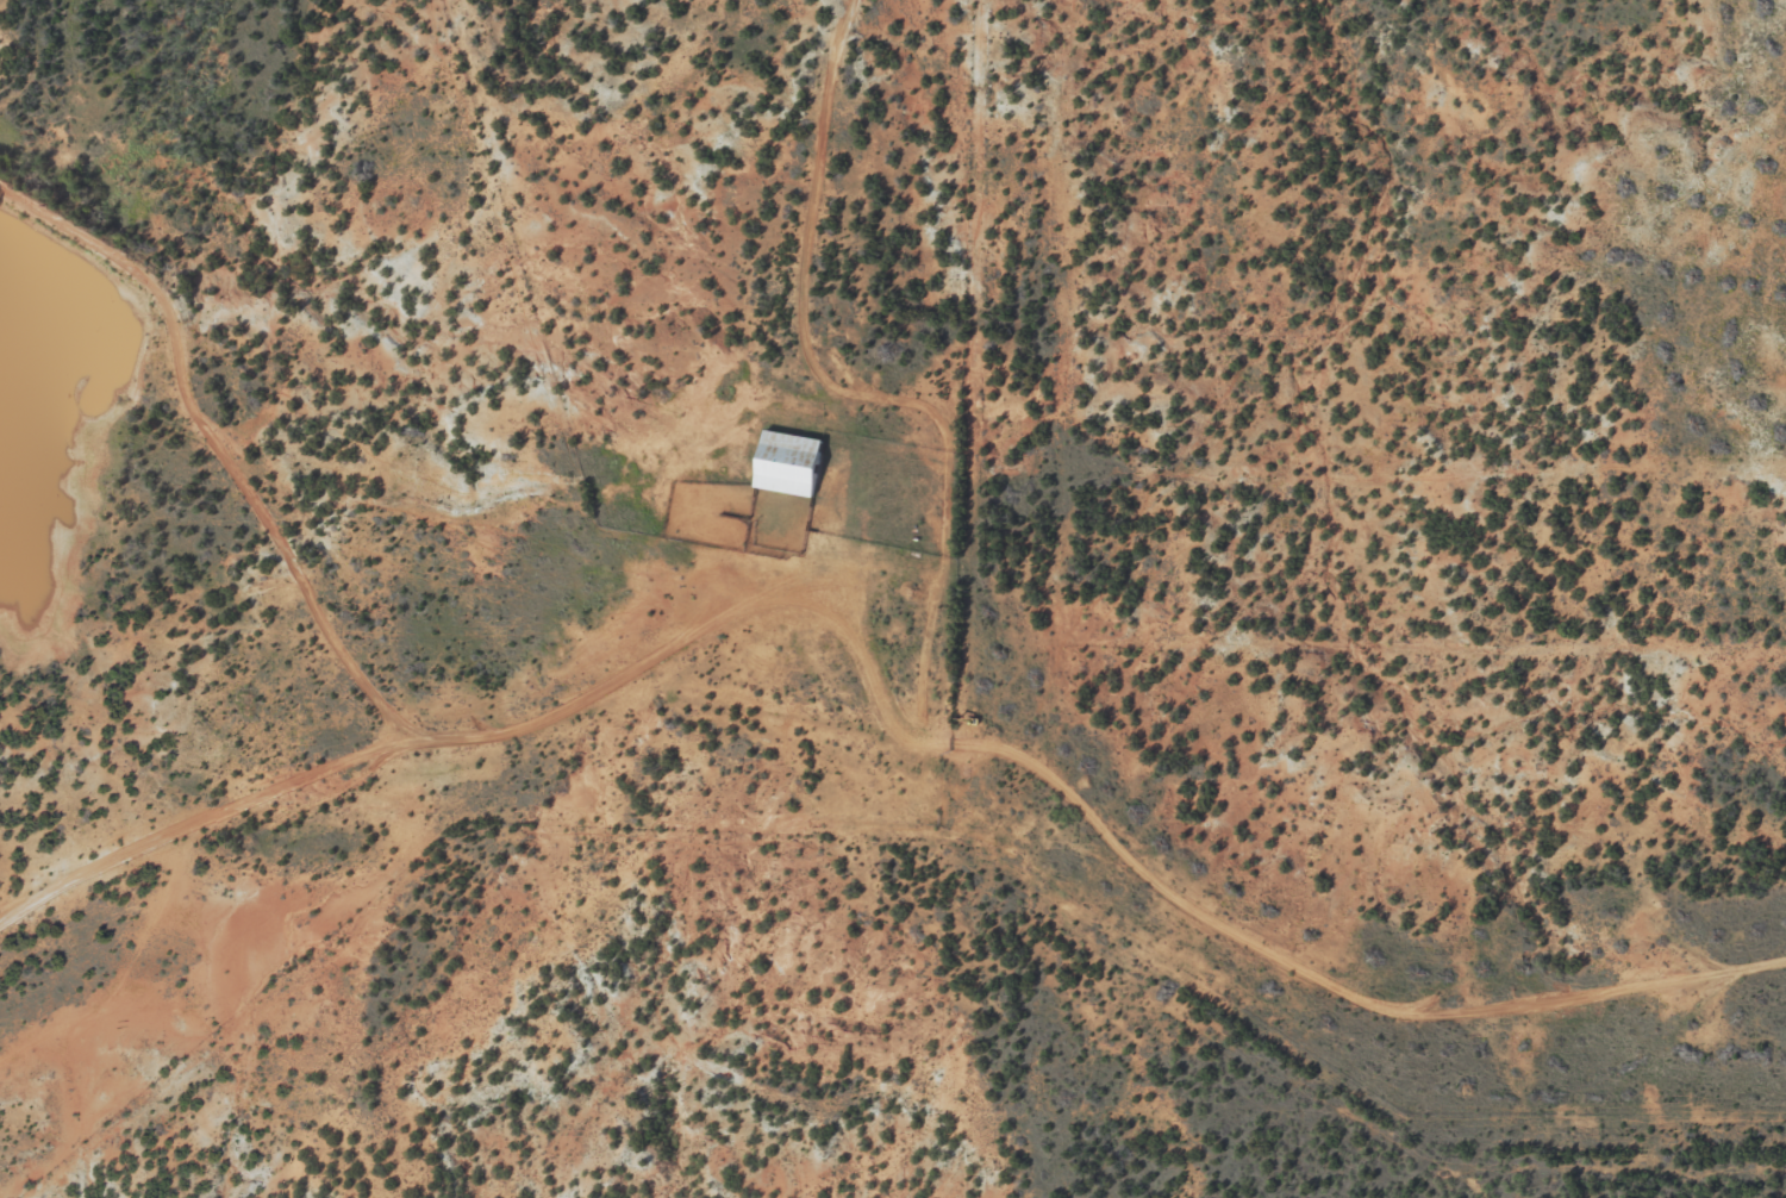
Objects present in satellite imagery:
road: (180, 439)
building: (789, 463)
road: (899, 735)
road: (435, 747)

